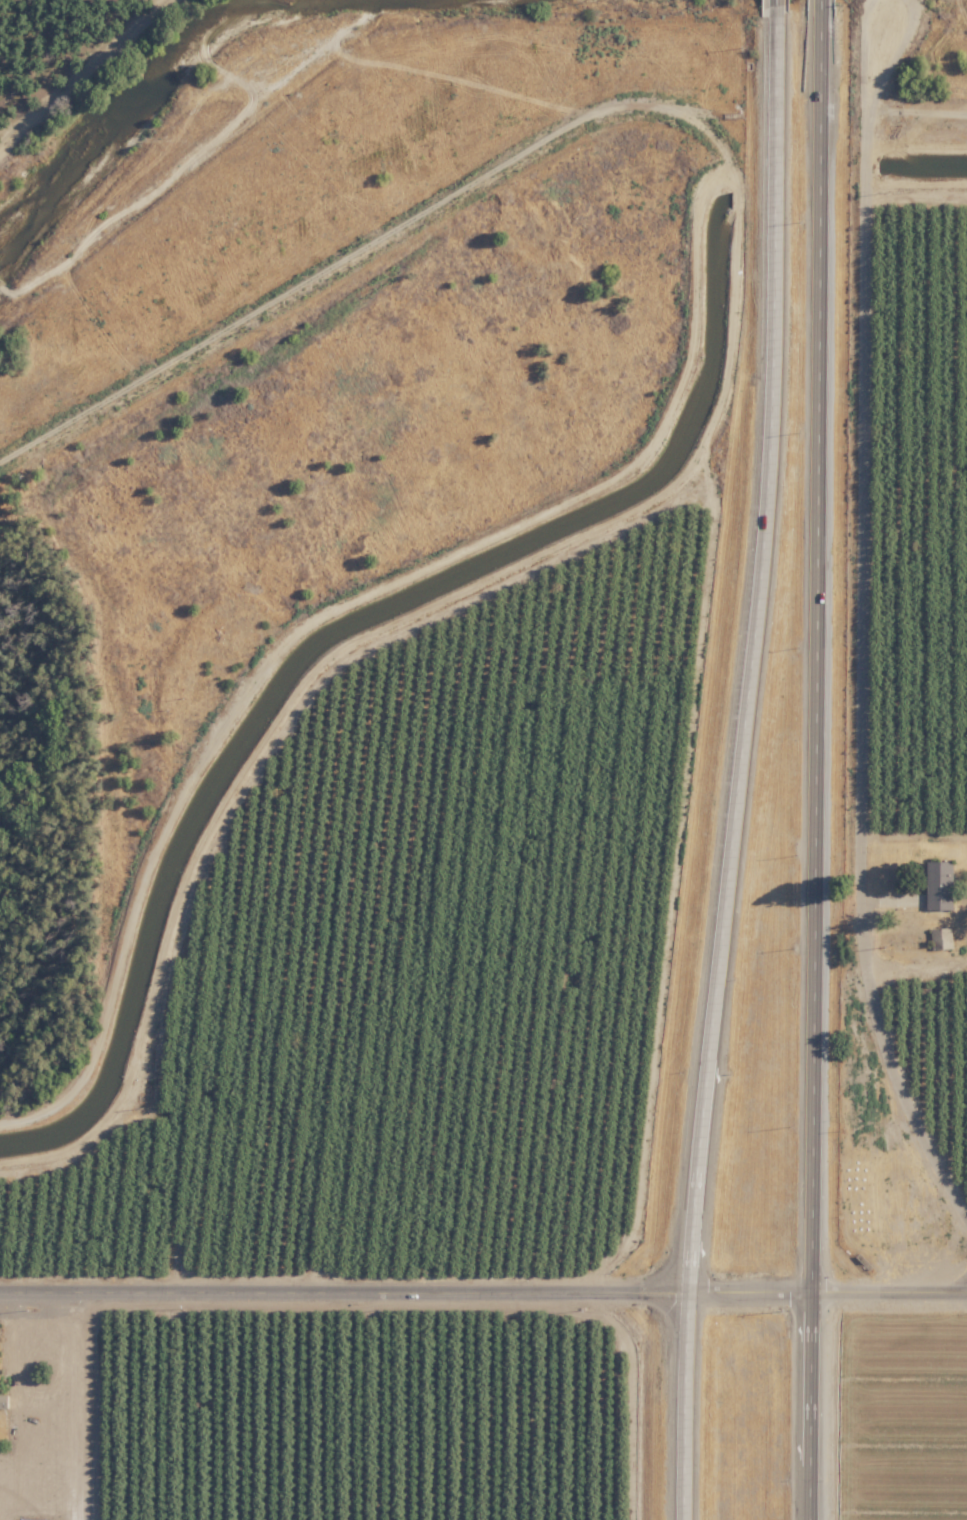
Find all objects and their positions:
road: (819, 3)
road: (778, 9)
crop: (54, 47)
road: (866, 54)
road: (905, 57)
river: (122, 106)
road: (736, 190)
road: (370, 244)
road: (814, 649)
road: (762, 655)
road: (869, 665)
building: (940, 884)
road: (348, 1290)
road: (755, 1291)
road: (890, 1291)
road: (9, 1340)
building: (3, 1401)
crop: (912, 1401)
road: (693, 1404)
road: (813, 1406)

